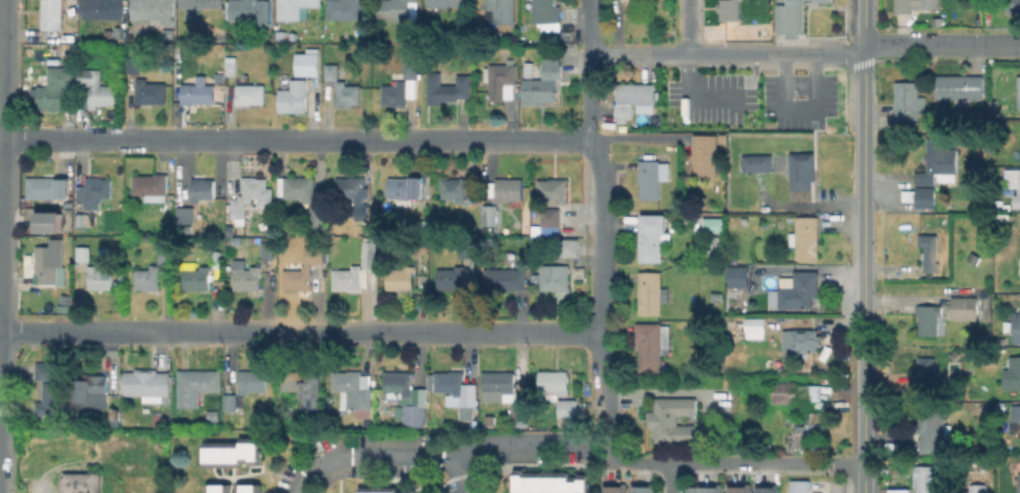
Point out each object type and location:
building: (822, 1)
building: (635, 2)
building: (202, 3)
building: (447, 3)
building: (918, 6)
building: (1013, 6)
building: (296, 8)
building: (104, 9)
building: (395, 9)
building: (730, 9)
building: (251, 10)
building: (350, 10)
building: (155, 11)
building: (501, 11)
building: (547, 11)
building: (53, 14)
building: (789, 16)
road: (864, 24)
road: (688, 27)
building: (169, 33)
building: (120, 34)
building: (282, 34)
road: (933, 45)
road: (1005, 45)
road: (734, 54)
building: (134, 65)
building: (232, 65)
building: (310, 65)
building: (529, 69)
building: (411, 70)
building: (220, 79)
building: (502, 80)
building: (344, 85)
building: (98, 87)
building: (57, 88)
building: (448, 88)
building: (543, 88)
building: (960, 90)
building: (151, 92)
building: (198, 93)
building: (1018, 93)
building: (251, 94)
building: (394, 97)
road: (2, 99)
building: (296, 99)
building: (634, 99)
building: (907, 105)
road: (1, 129)
road: (637, 135)
road: (42, 139)
road: (338, 141)
building: (706, 156)
building: (943, 161)
building: (755, 162)
building: (802, 170)
building: (653, 177)
building: (1013, 183)
building: (156, 187)
building: (351, 187)
building: (49, 188)
building: (300, 188)
building: (406, 188)
building: (509, 188)
building: (202, 189)
building: (454, 189)
building: (553, 189)
building: (93, 192)
building: (925, 192)
building: (906, 195)
building: (252, 197)
road: (864, 210)
building: (186, 215)
building: (319, 216)
building: (49, 217)
building: (489, 218)
building: (81, 219)
building: (369, 220)
building: (716, 224)
building: (549, 225)
building: (423, 226)
road: (604, 230)
building: (654, 236)
building: (806, 237)
building: (237, 241)
building: (570, 247)
building: (271, 251)
building: (929, 251)
building: (465, 252)
building: (84, 253)
building: (1018, 263)
building: (46, 264)
building: (308, 270)
building: (357, 270)
building: (154, 271)
building: (456, 274)
building: (738, 275)
building: (555, 276)
building: (248, 277)
building: (100, 278)
building: (197, 278)
building: (401, 278)
building: (506, 278)
building: (796, 290)
building: (651, 292)
building: (717, 296)
building: (965, 308)
building: (929, 318)
building: (753, 326)
building: (1014, 327)
road: (302, 332)
building: (802, 340)
building: (653, 343)
building: (926, 373)
building: (1013, 375)
building: (253, 381)
building: (450, 382)
building: (500, 383)
building: (198, 384)
building: (553, 384)
building: (149, 385)
building: (400, 385)
building: (52, 387)
building: (308, 387)
building: (353, 391)
building: (91, 393)
building: (797, 394)
building: (234, 402)
building: (568, 408)
building: (467, 412)
building: (115, 413)
building: (213, 414)
building: (519, 414)
building: (415, 415)
building: (1013, 416)
building: (157, 419)
building: (676, 421)
building: (1016, 423)
building: (933, 429)
building: (809, 430)
road: (864, 433)
building: (231, 455)
road: (437, 458)
road: (736, 462)
road: (462, 476)
road: (672, 477)
building: (930, 480)
building: (1019, 482)
building: (82, 483)
building: (548, 485)
building: (801, 486)
building: (233, 488)
building: (979, 488)
building: (616, 491)
building: (644, 491)
building: (706, 491)
building: (740, 491)
building: (768, 491)
building: (378, 492)

